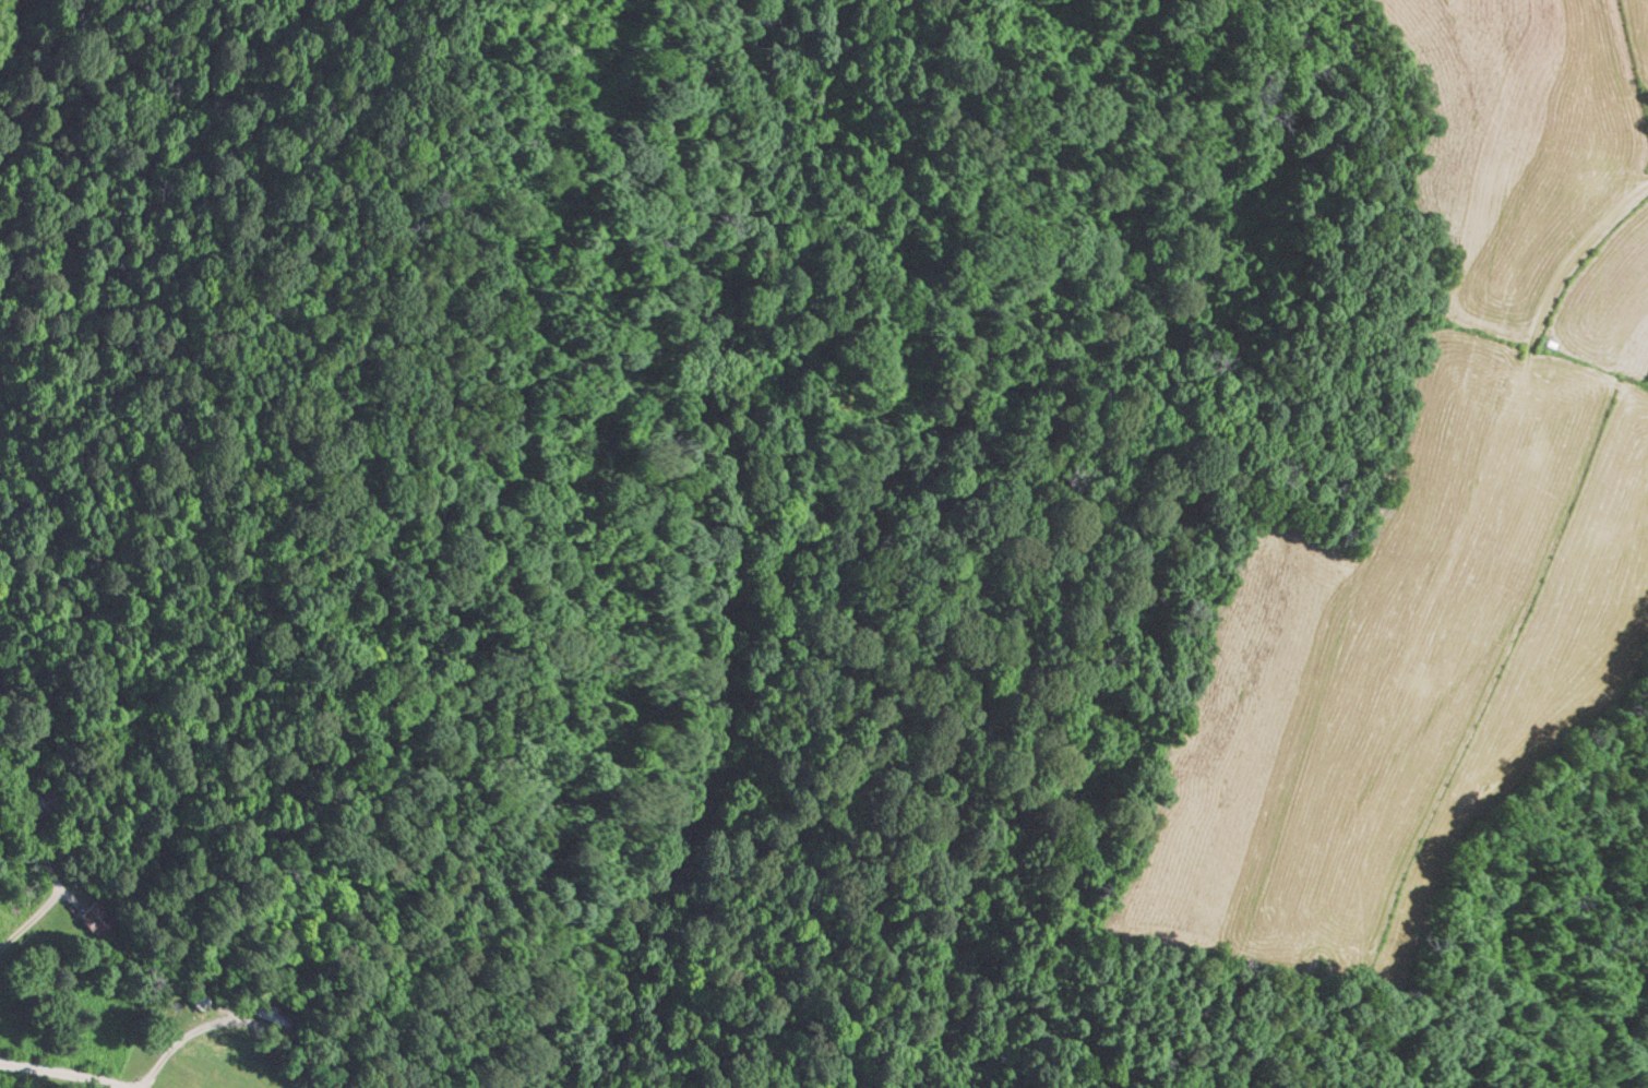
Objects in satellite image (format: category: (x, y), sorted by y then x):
building: (94, 917)
building: (273, 1015)
road: (68, 1072)

